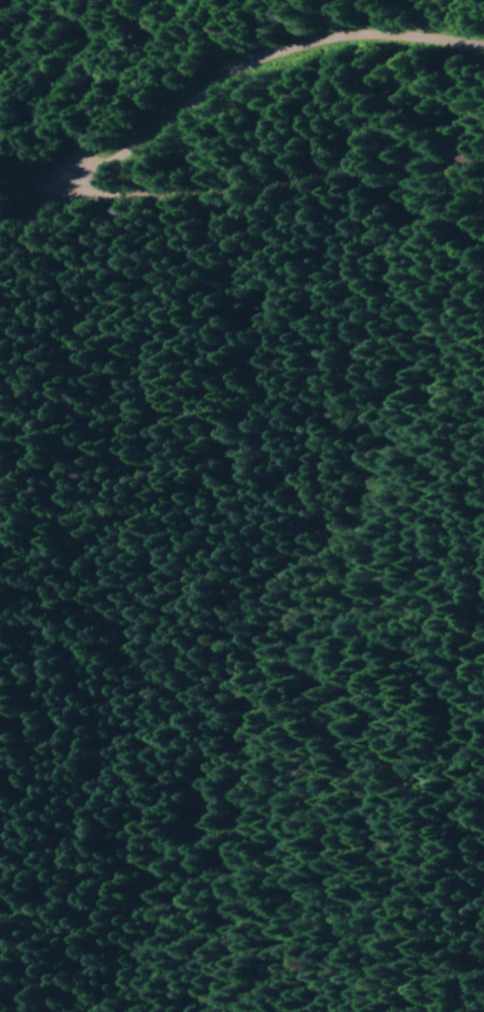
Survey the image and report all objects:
road: (266, 58)
road: (114, 99)
road: (293, 179)
road: (38, 199)

